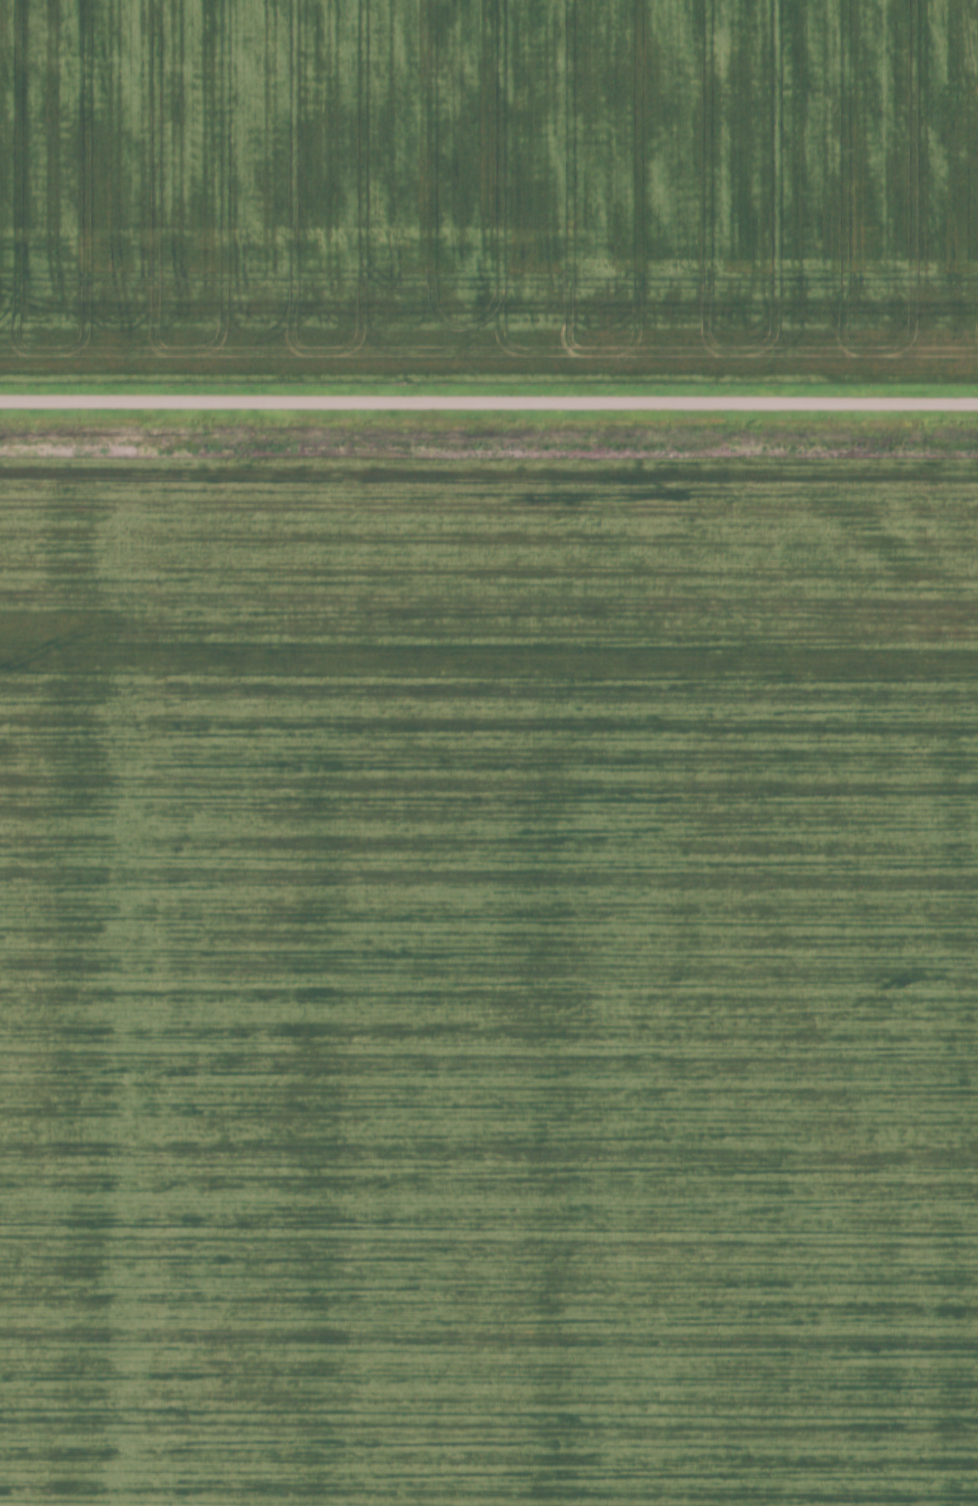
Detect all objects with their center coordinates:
road: (489, 399)

